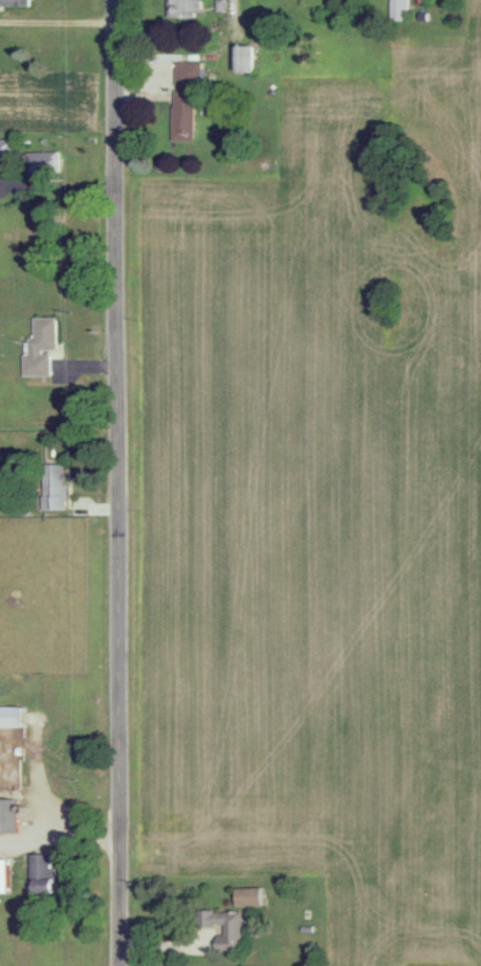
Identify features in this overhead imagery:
building: (15, 4)
building: (185, 8)
building: (398, 8)
road: (58, 22)
building: (242, 57)
building: (188, 71)
building: (184, 114)
building: (7, 147)
building: (44, 160)
building: (42, 346)
road: (116, 483)
building: (50, 486)
building: (10, 715)
building: (4, 814)
road: (58, 850)
building: (40, 871)
building: (3, 874)
building: (246, 896)
building: (227, 929)

